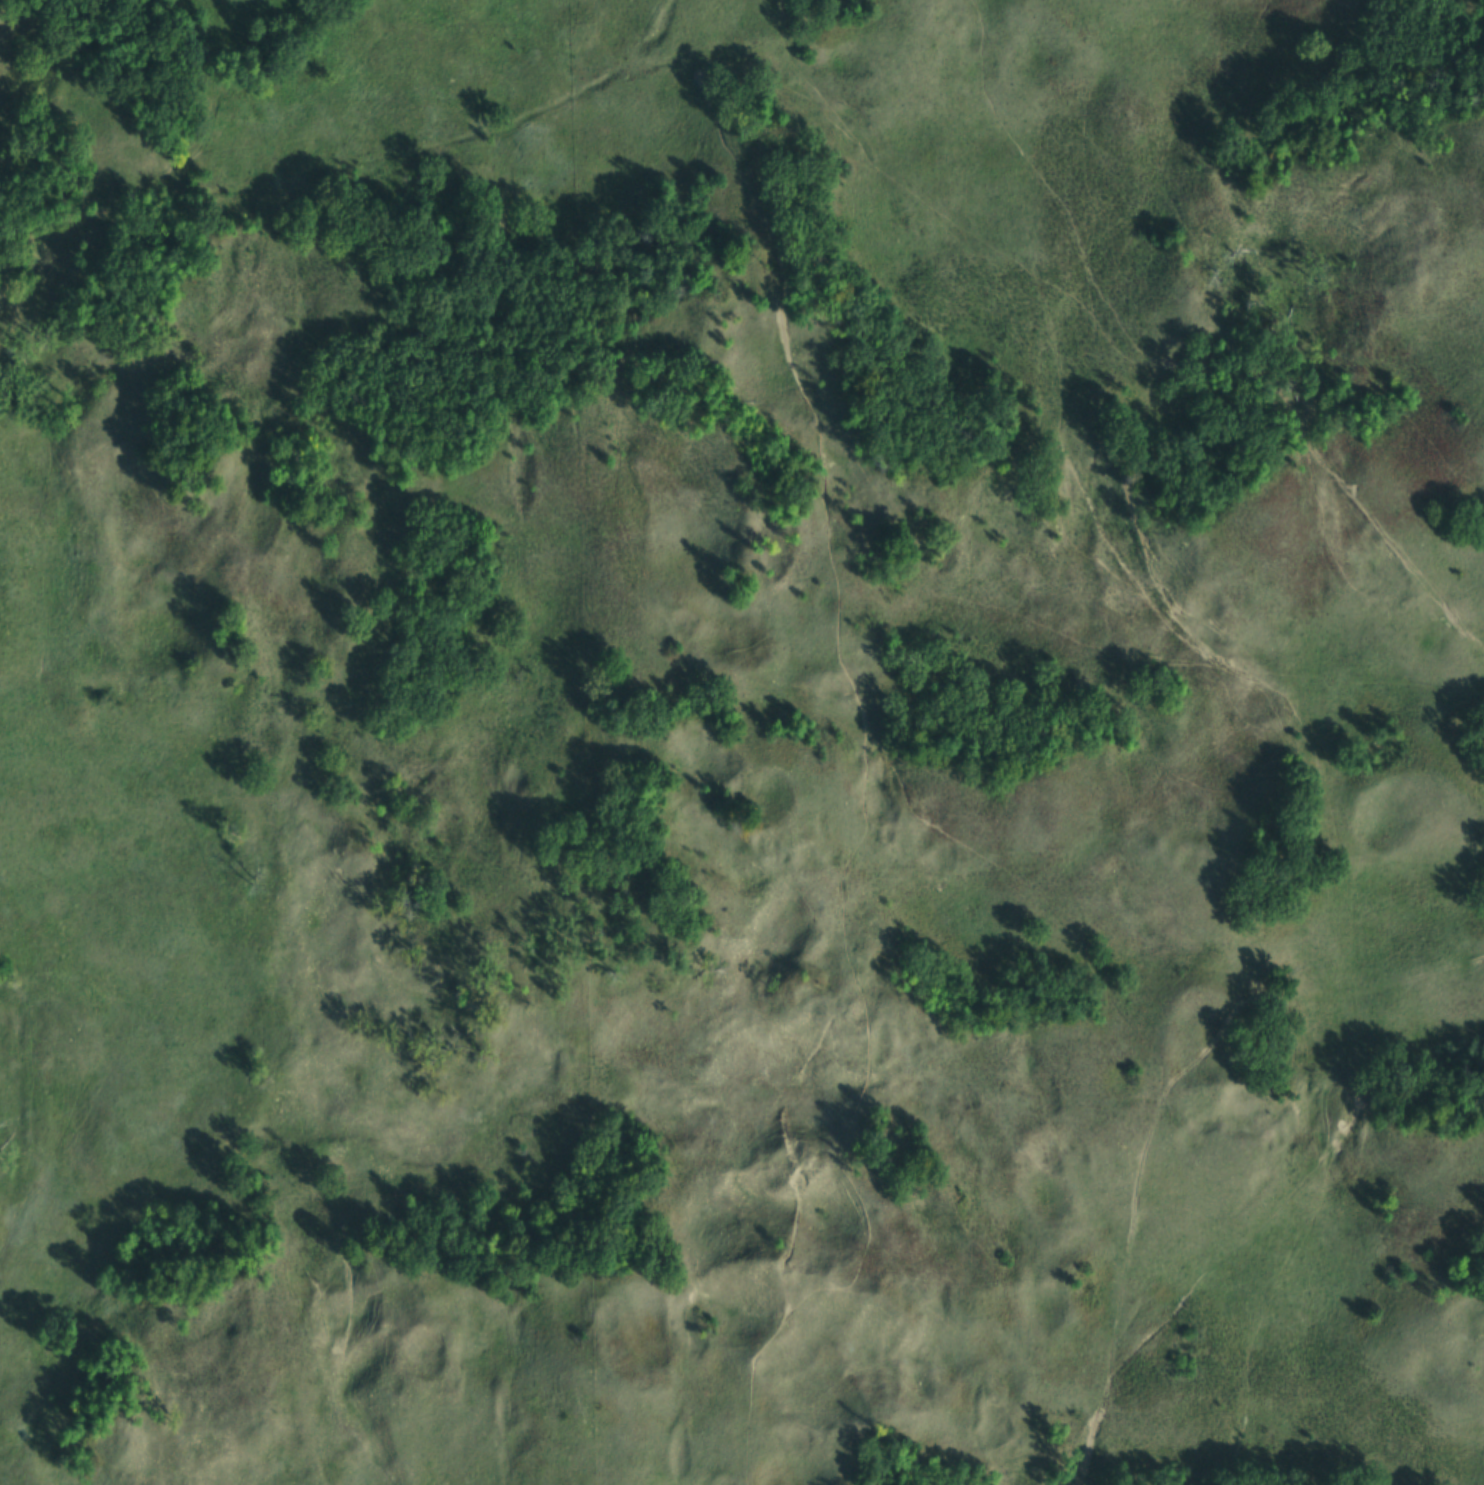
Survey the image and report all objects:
road: (1159, 1114)

